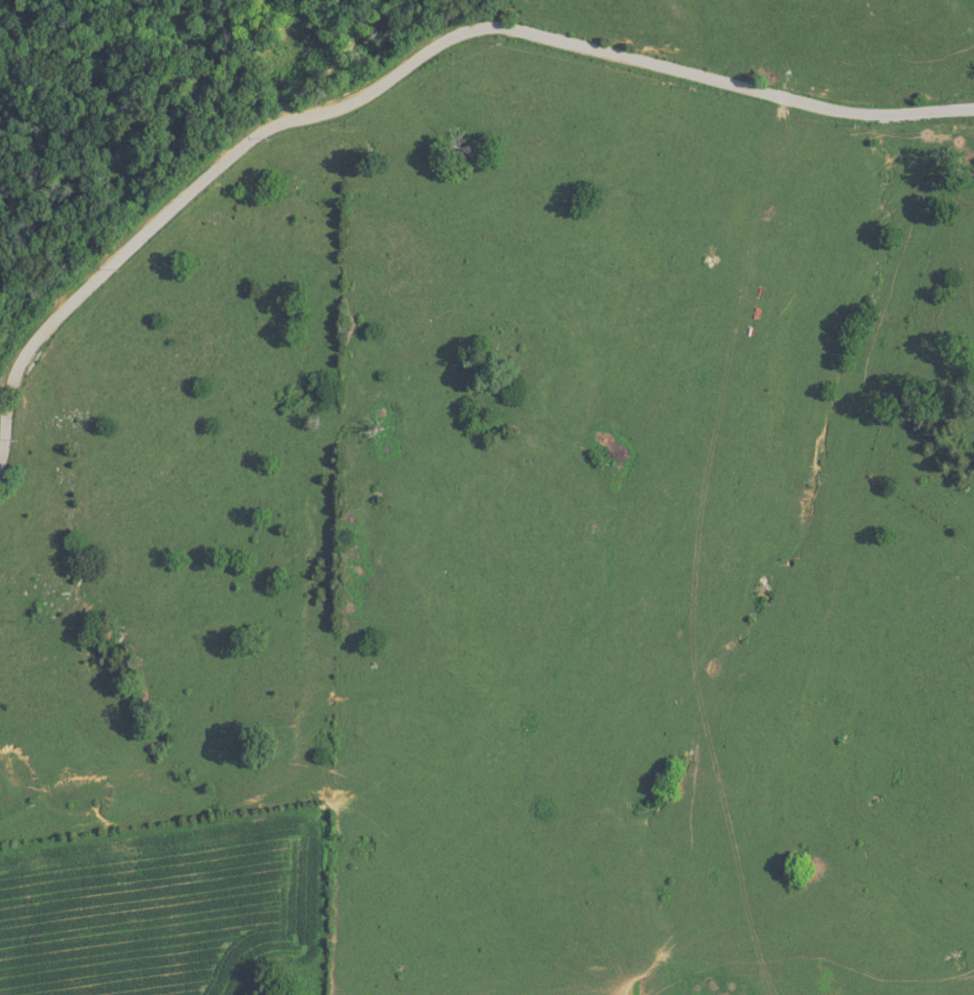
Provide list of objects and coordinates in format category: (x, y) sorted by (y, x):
road: (415, 46)

